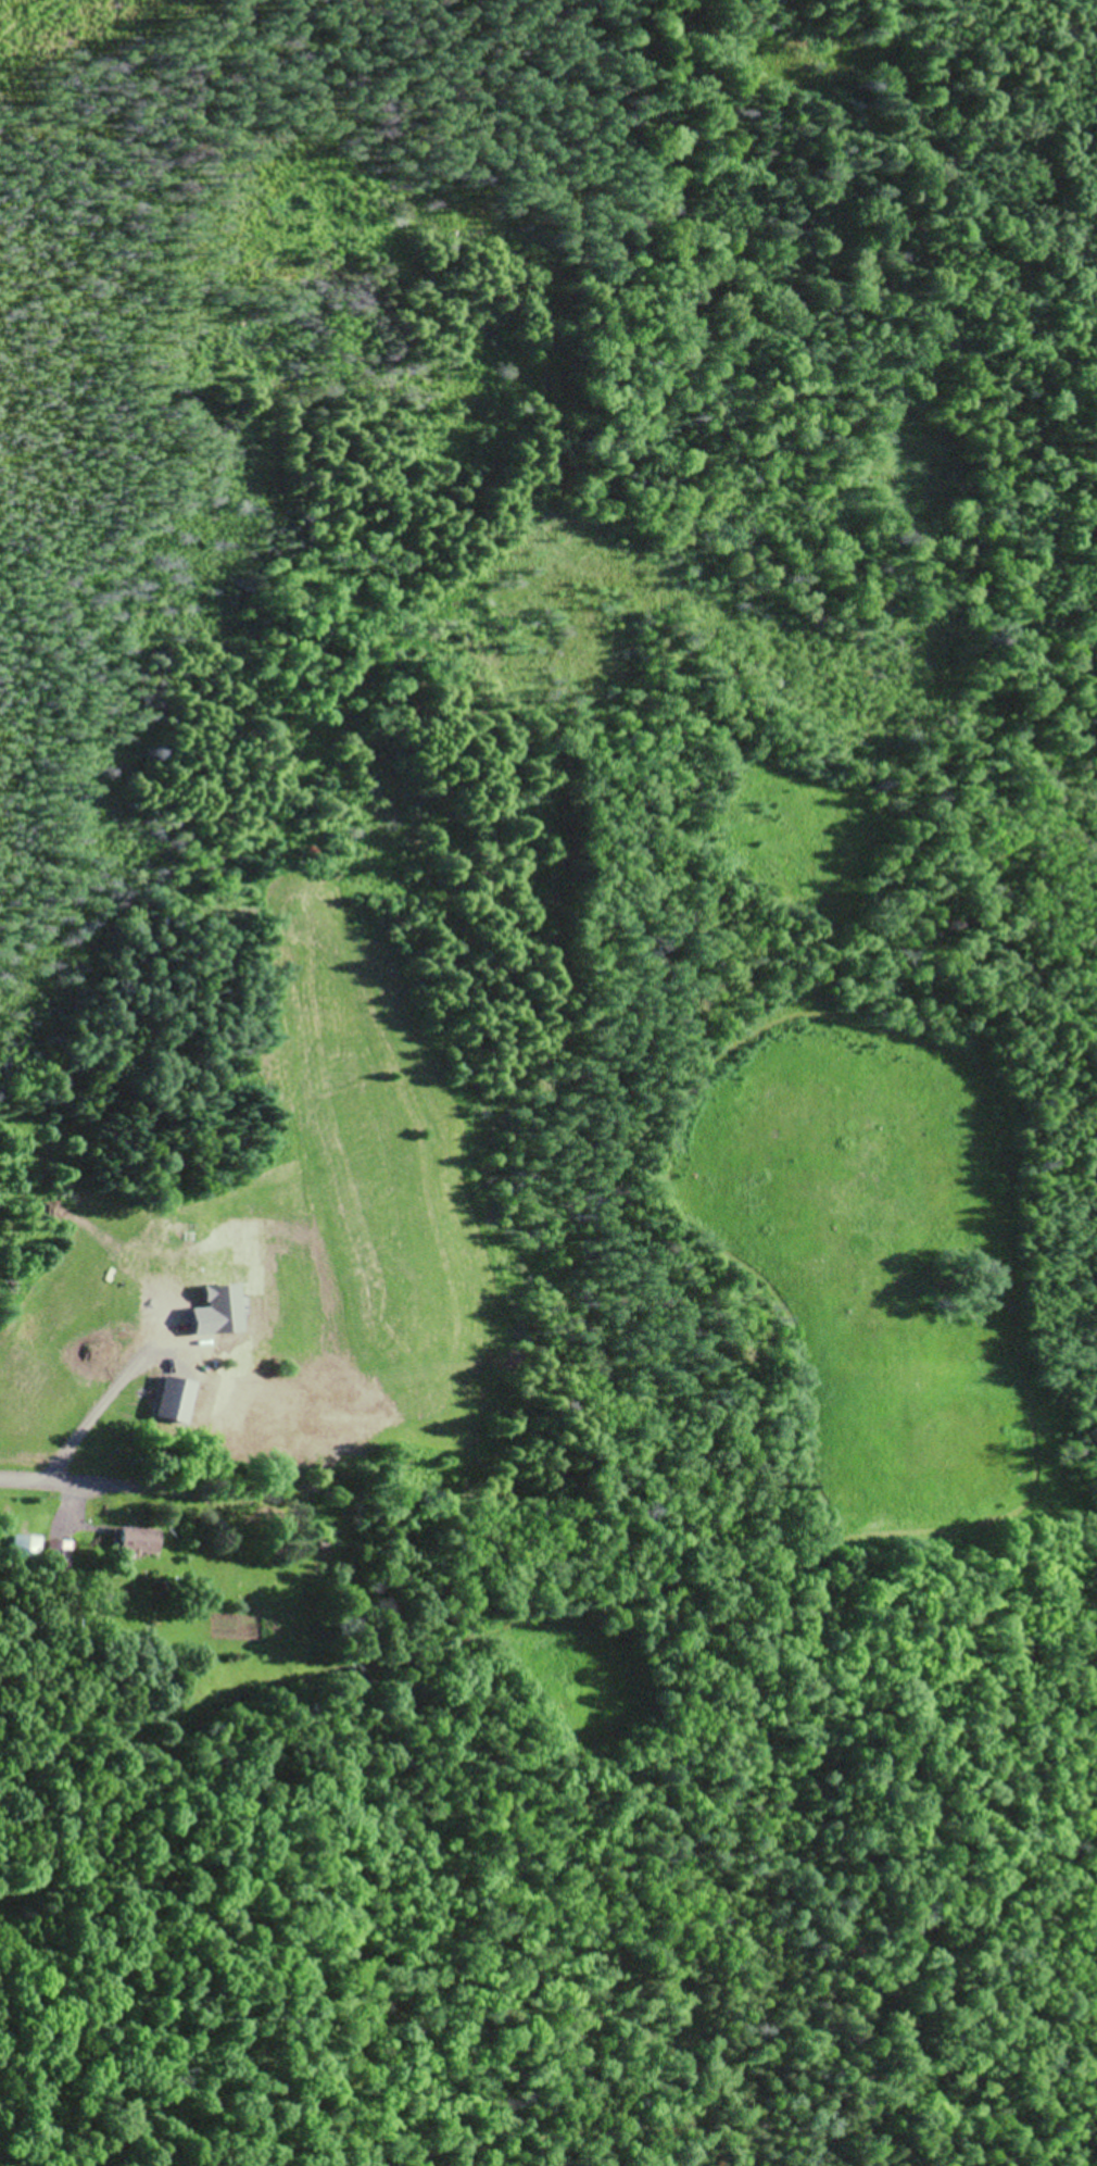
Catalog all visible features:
road: (93, 1481)
building: (139, 1543)
building: (27, 1551)
building: (59, 1561)

